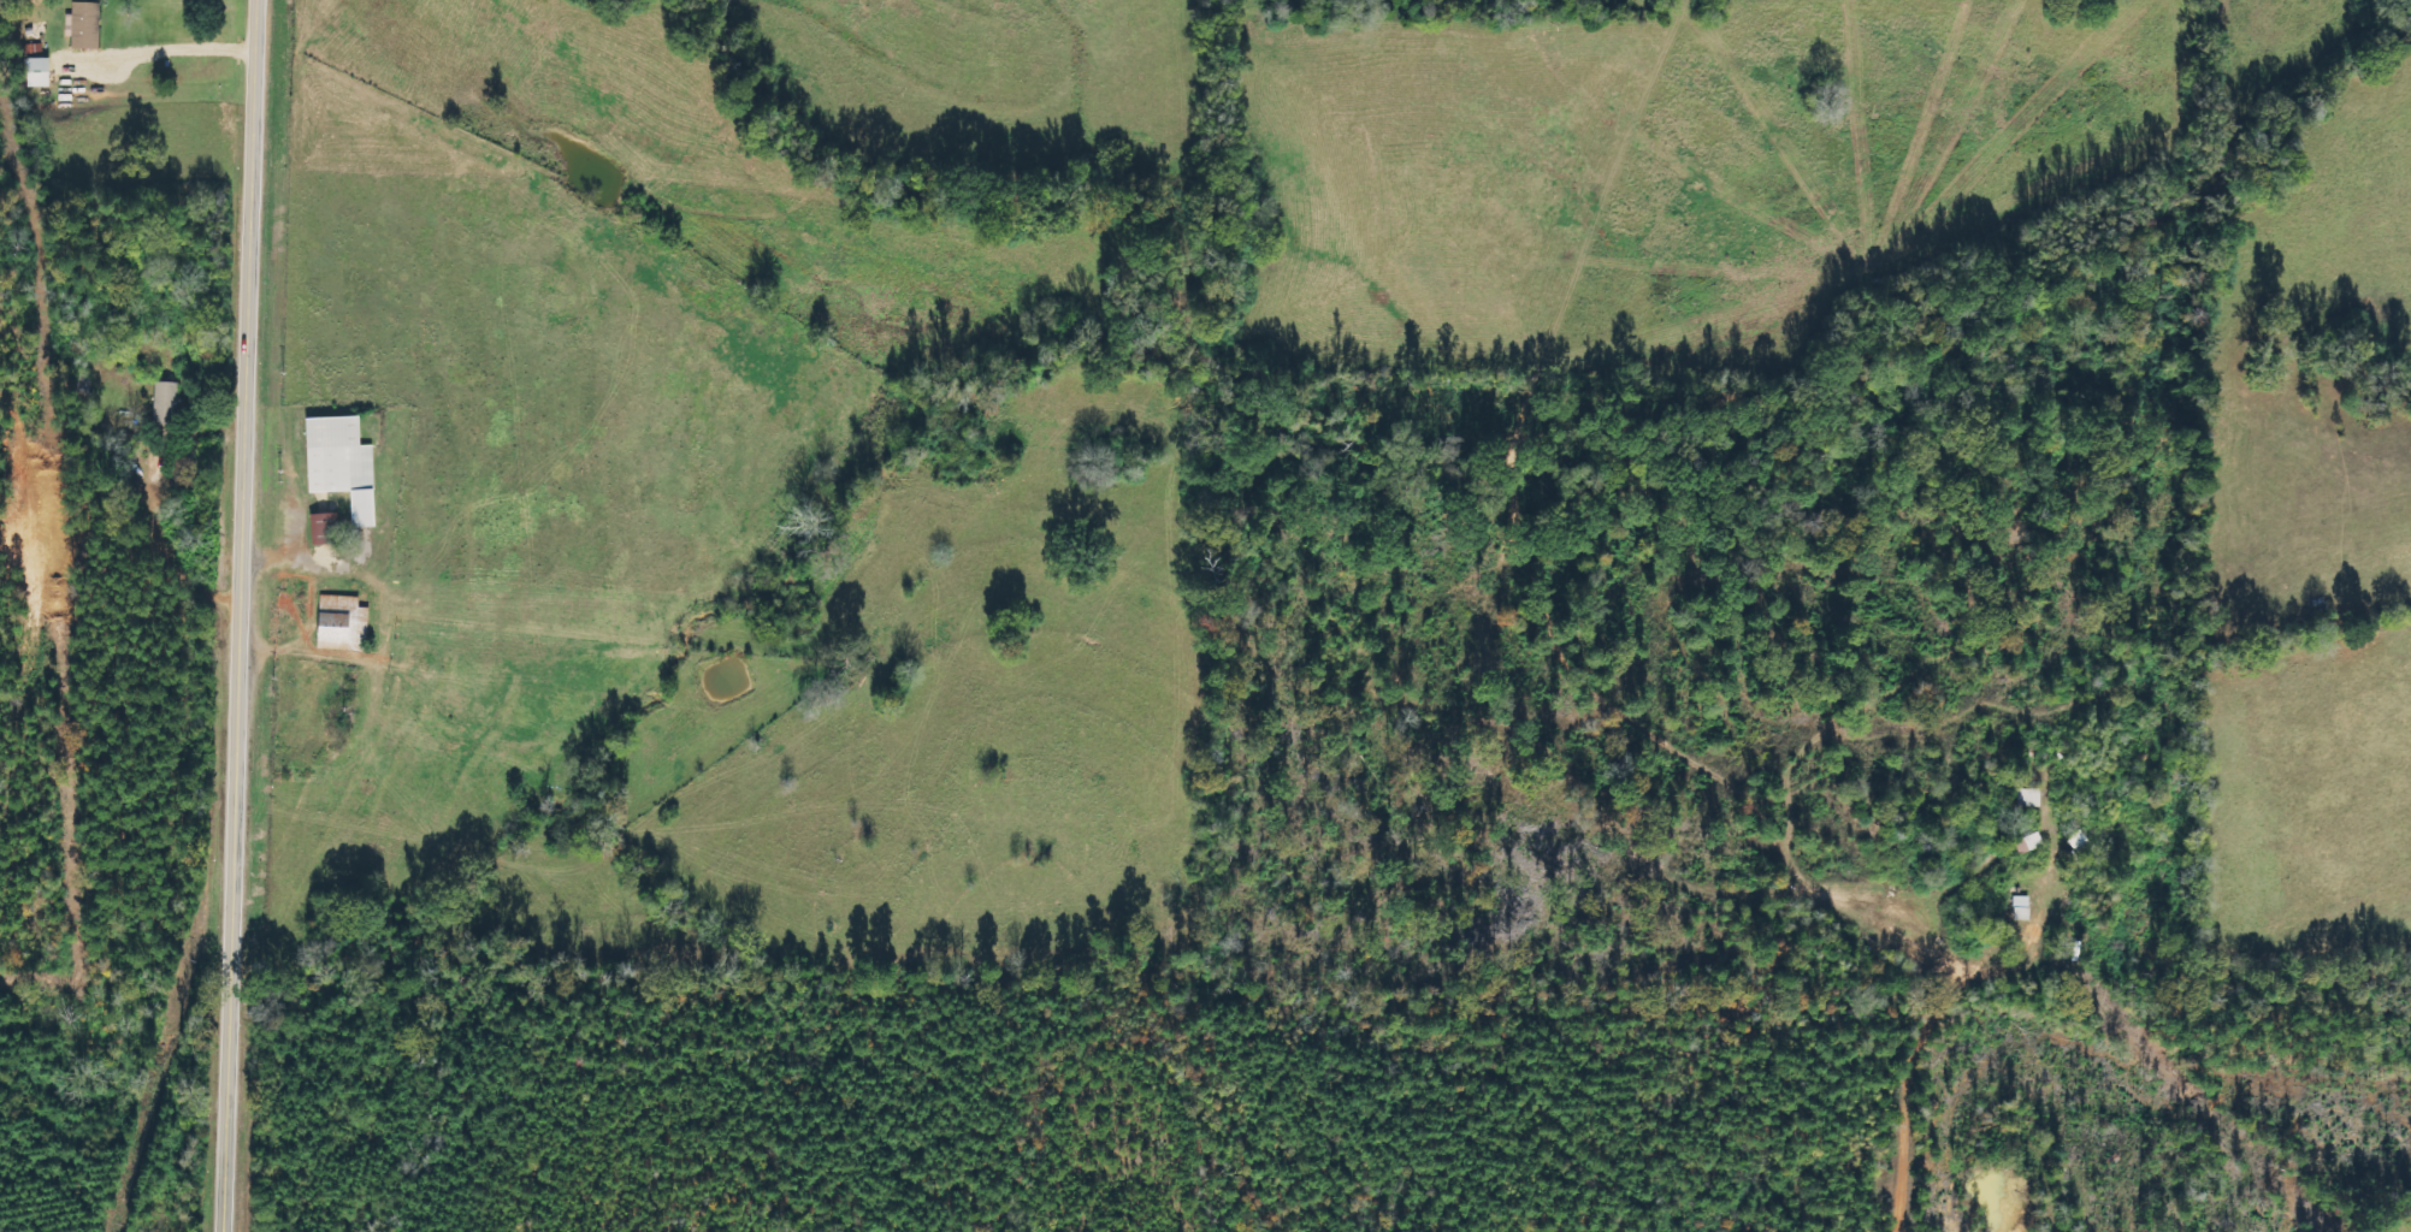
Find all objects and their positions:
building: (85, 25)
building: (40, 72)
building: (166, 403)
building: (345, 464)
building: (327, 528)
road: (119, 545)
road: (237, 615)
building: (344, 620)
building: (2026, 798)
building: (2025, 843)
building: (2020, 908)
road: (1920, 1072)

